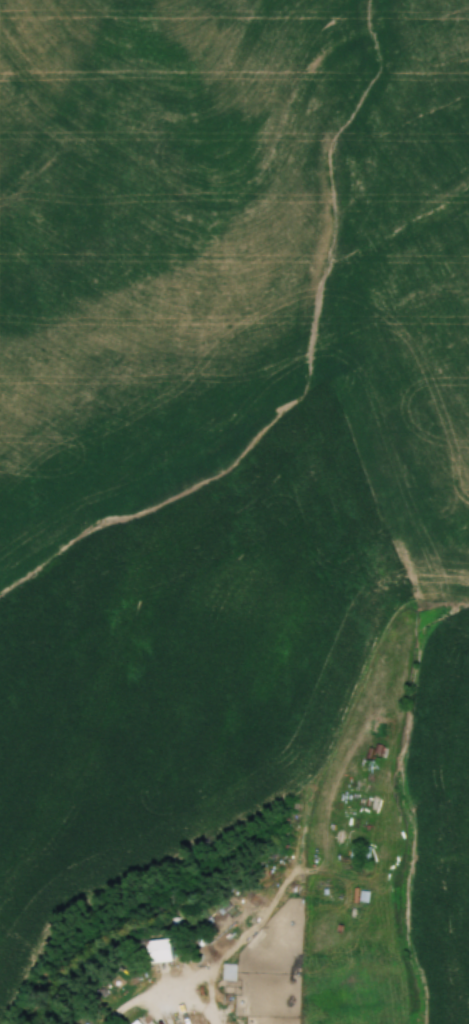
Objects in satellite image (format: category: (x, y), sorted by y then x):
building: (359, 853)
building: (157, 950)
building: (228, 972)
road: (160, 1000)
building: (134, 1022)

